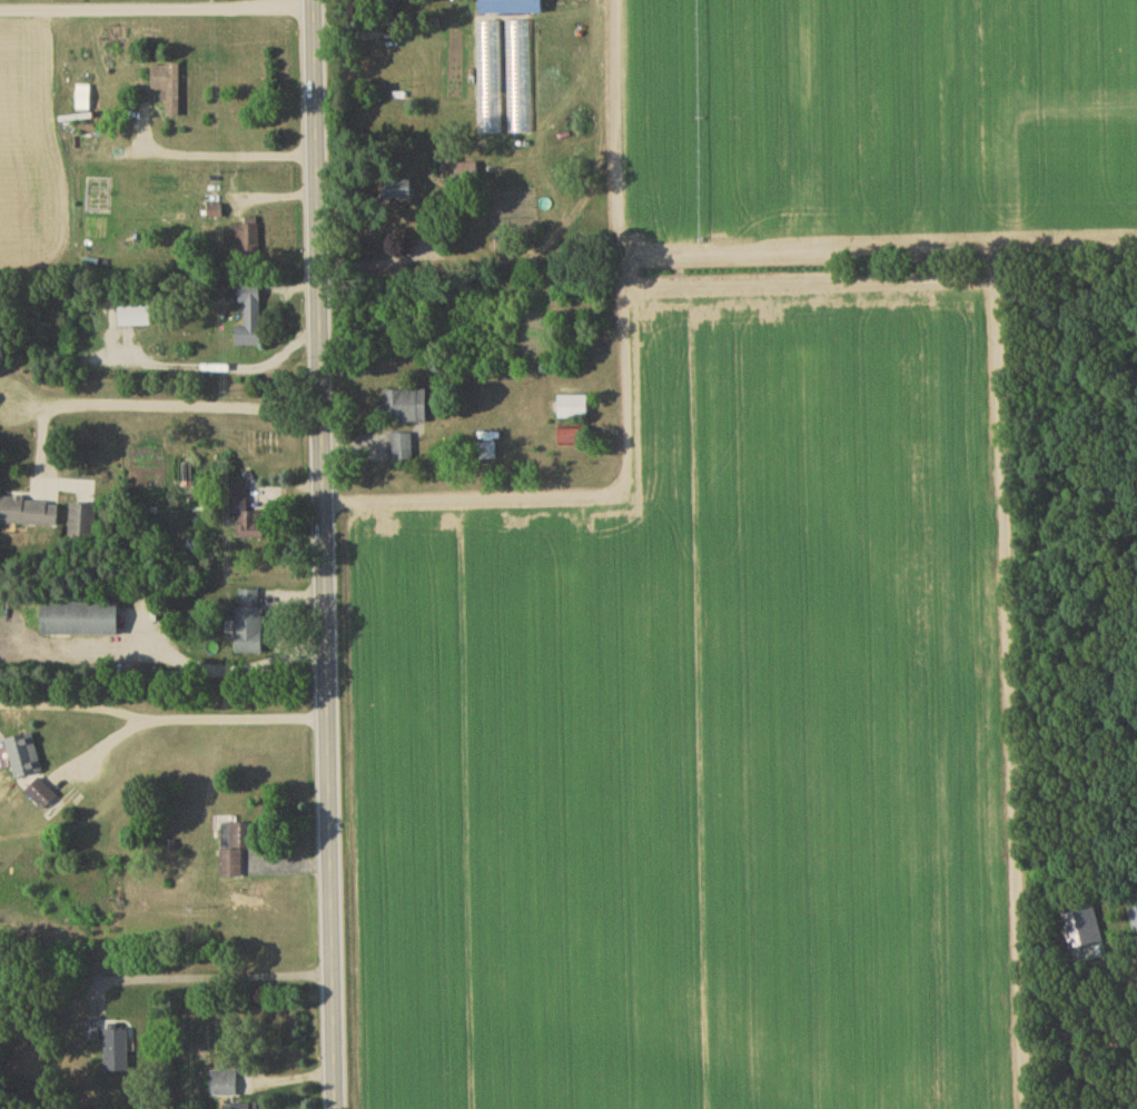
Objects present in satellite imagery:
building: (512, 9)
road: (156, 10)
building: (168, 89)
road: (229, 157)
building: (466, 175)
building: (398, 190)
road: (386, 240)
building: (246, 241)
road: (878, 251)
building: (250, 317)
road: (626, 393)
road: (159, 407)
building: (405, 408)
building: (573, 409)
building: (574, 439)
building: (403, 450)
building: (486, 454)
building: (29, 514)
building: (247, 518)
building: (83, 523)
road: (323, 554)
building: (81, 621)
building: (250, 625)
road: (205, 720)
building: (23, 758)
building: (42, 796)
building: (236, 850)
building: (1134, 919)
road: (217, 978)
building: (92, 1033)
building: (117, 1053)
building: (224, 1086)
building: (246, 1107)

